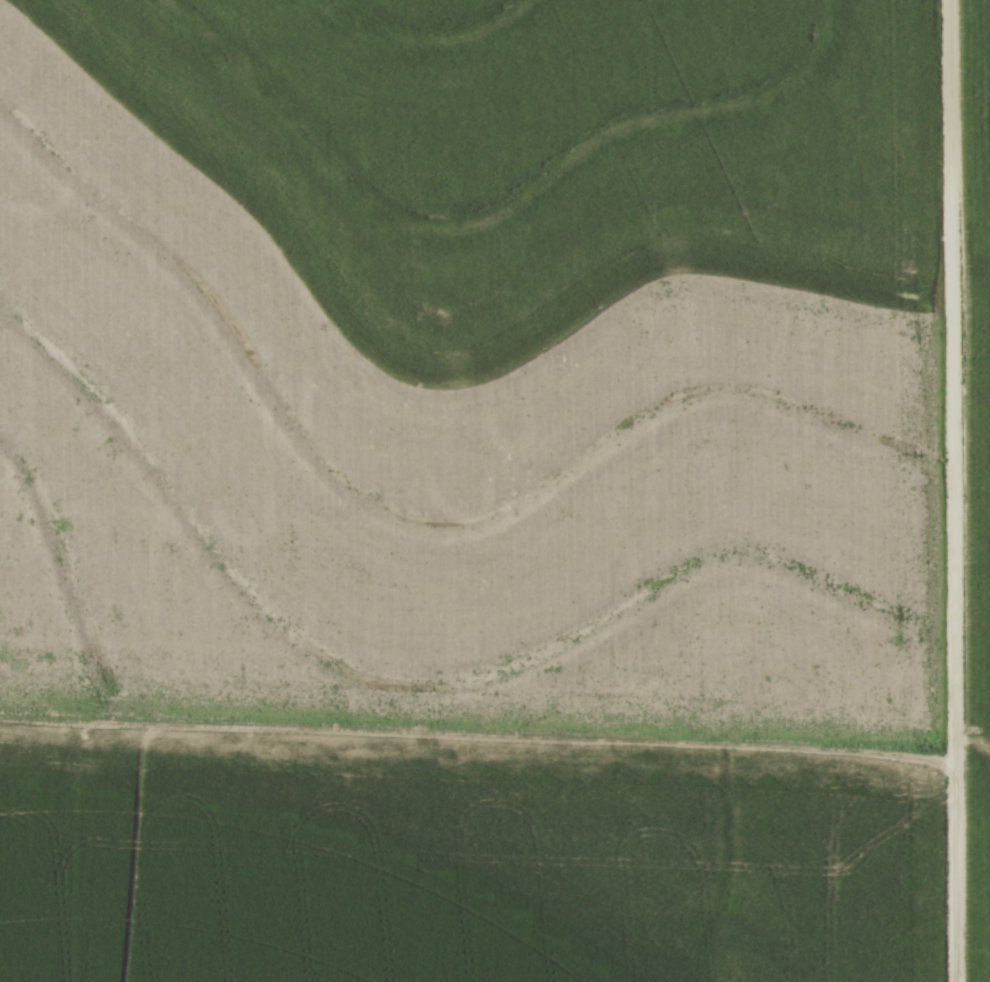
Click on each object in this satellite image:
road: (956, 490)

